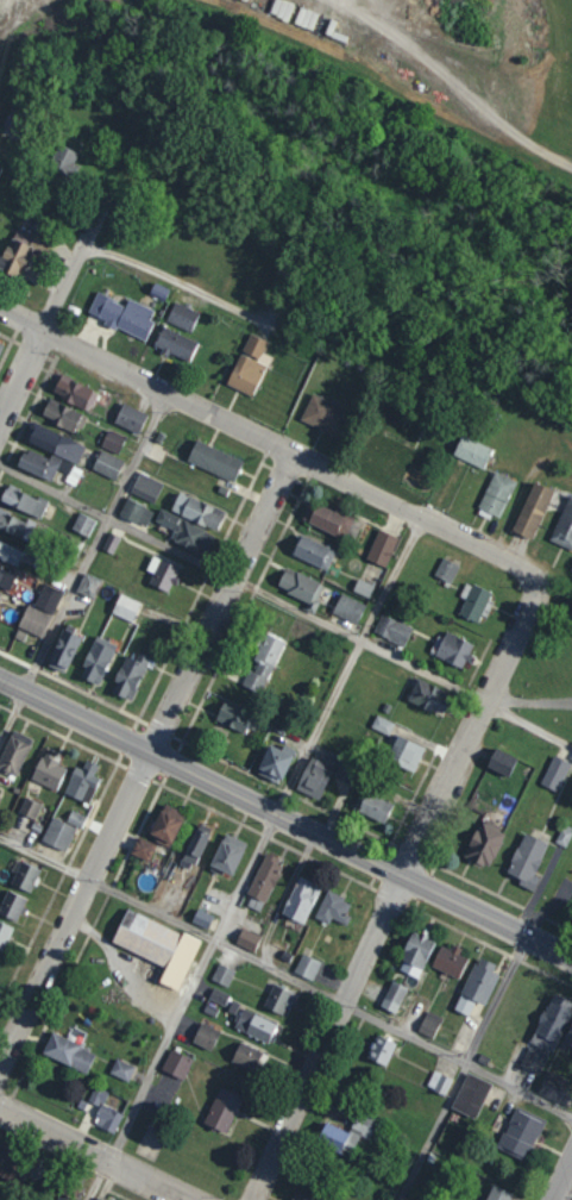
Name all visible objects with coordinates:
building: (1, 5)
building: (14, 119)
building: (63, 158)
building: (0, 167)
building: (19, 251)
road: (172, 280)
road: (48, 307)
building: (122, 313)
building: (182, 315)
building: (176, 343)
building: (1, 345)
building: (250, 364)
building: (74, 392)
building: (325, 414)
building: (63, 415)
building: (130, 417)
building: (113, 440)
road: (268, 442)
building: (56, 444)
building: (473, 451)
building: (214, 460)
building: (107, 464)
building: (48, 465)
building: (145, 487)
building: (497, 493)
building: (24, 500)
building: (533, 510)
building: (197, 511)
building: (136, 512)
building: (329, 518)
building: (83, 524)
building: (15, 525)
building: (564, 526)
building: (187, 531)
building: (111, 543)
building: (382, 548)
building: (314, 551)
building: (10, 554)
road: (81, 564)
building: (446, 569)
building: (162, 573)
building: (6, 577)
road: (243, 577)
building: (301, 587)
building: (363, 587)
building: (0, 592)
building: (48, 598)
building: (474, 602)
building: (125, 607)
building: (348, 608)
building: (33, 620)
building: (392, 630)
building: (452, 648)
building: (63, 650)
building: (98, 660)
building: (263, 662)
building: (131, 674)
building: (429, 696)
road: (528, 701)
building: (233, 717)
building: (382, 725)
road: (526, 727)
building: (14, 751)
building: (404, 752)
road: (145, 756)
building: (501, 761)
building: (275, 762)
building: (49, 770)
building: (345, 771)
building: (555, 773)
building: (313, 779)
building: (83, 781)
building: (373, 806)
building: (30, 807)
building: (76, 819)
road: (287, 819)
building: (166, 824)
building: (58, 833)
building: (485, 843)
building: (195, 846)
building: (143, 849)
building: (228, 854)
road: (251, 858)
building: (527, 861)
building: (25, 876)
building: (265, 877)
road: (395, 889)
building: (301, 899)
building: (12, 905)
building: (333, 908)
building: (201, 918)
building: (4, 935)
building: (247, 939)
building: (157, 945)
building: (415, 954)
building: (450, 961)
road: (119, 967)
building: (307, 967)
building: (222, 974)
road: (287, 977)
building: (477, 986)
building: (219, 995)
building: (394, 996)
building: (277, 999)
building: (552, 1021)
building: (429, 1024)
building: (254, 1025)
building: (568, 1035)
building: (206, 1036)
building: (381, 1050)
building: (68, 1052)
building: (247, 1056)
building: (533, 1060)
building: (177, 1064)
road: (461, 1068)
building: (122, 1069)
building: (439, 1082)
building: (557, 1088)
building: (99, 1095)
building: (471, 1095)
building: (222, 1110)
building: (108, 1118)
building: (521, 1131)
building: (347, 1133)
road: (90, 1157)
building: (8, 1162)
road: (562, 1179)
building: (497, 1193)
building: (302, 1196)
building: (96, 1199)

